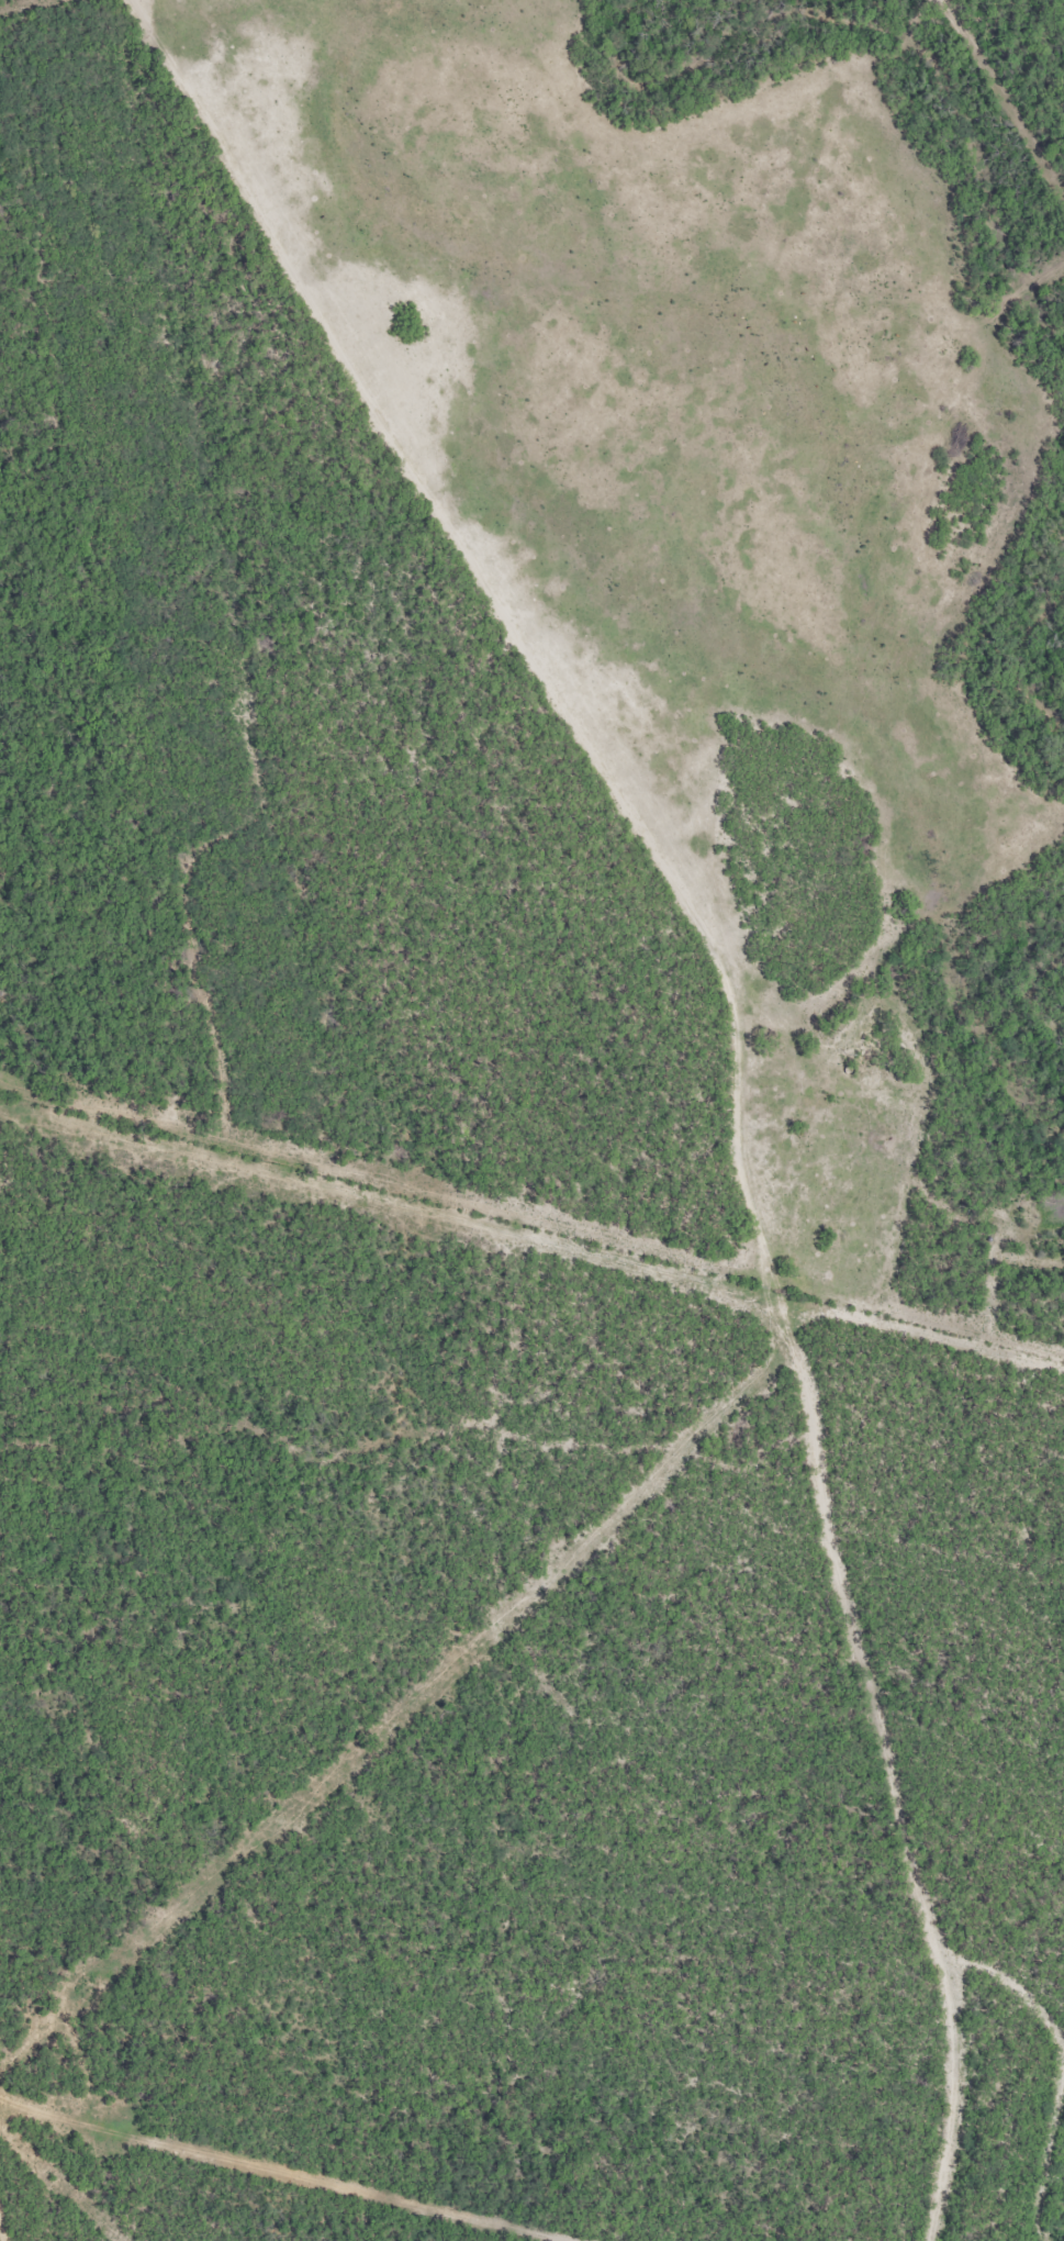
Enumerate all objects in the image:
road: (457, 557)
road: (815, 1464)
road: (335, 2154)

